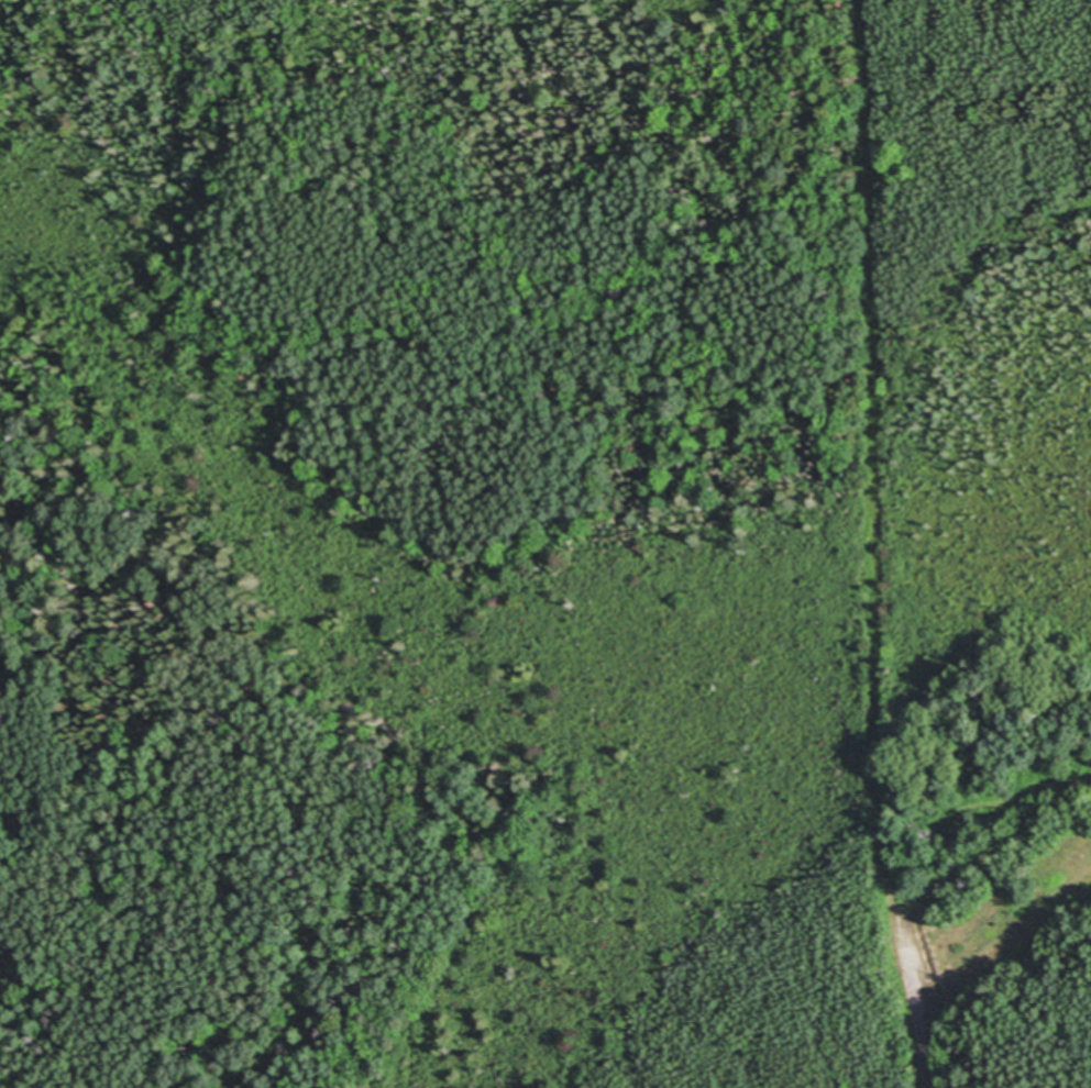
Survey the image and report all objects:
road: (881, 545)

